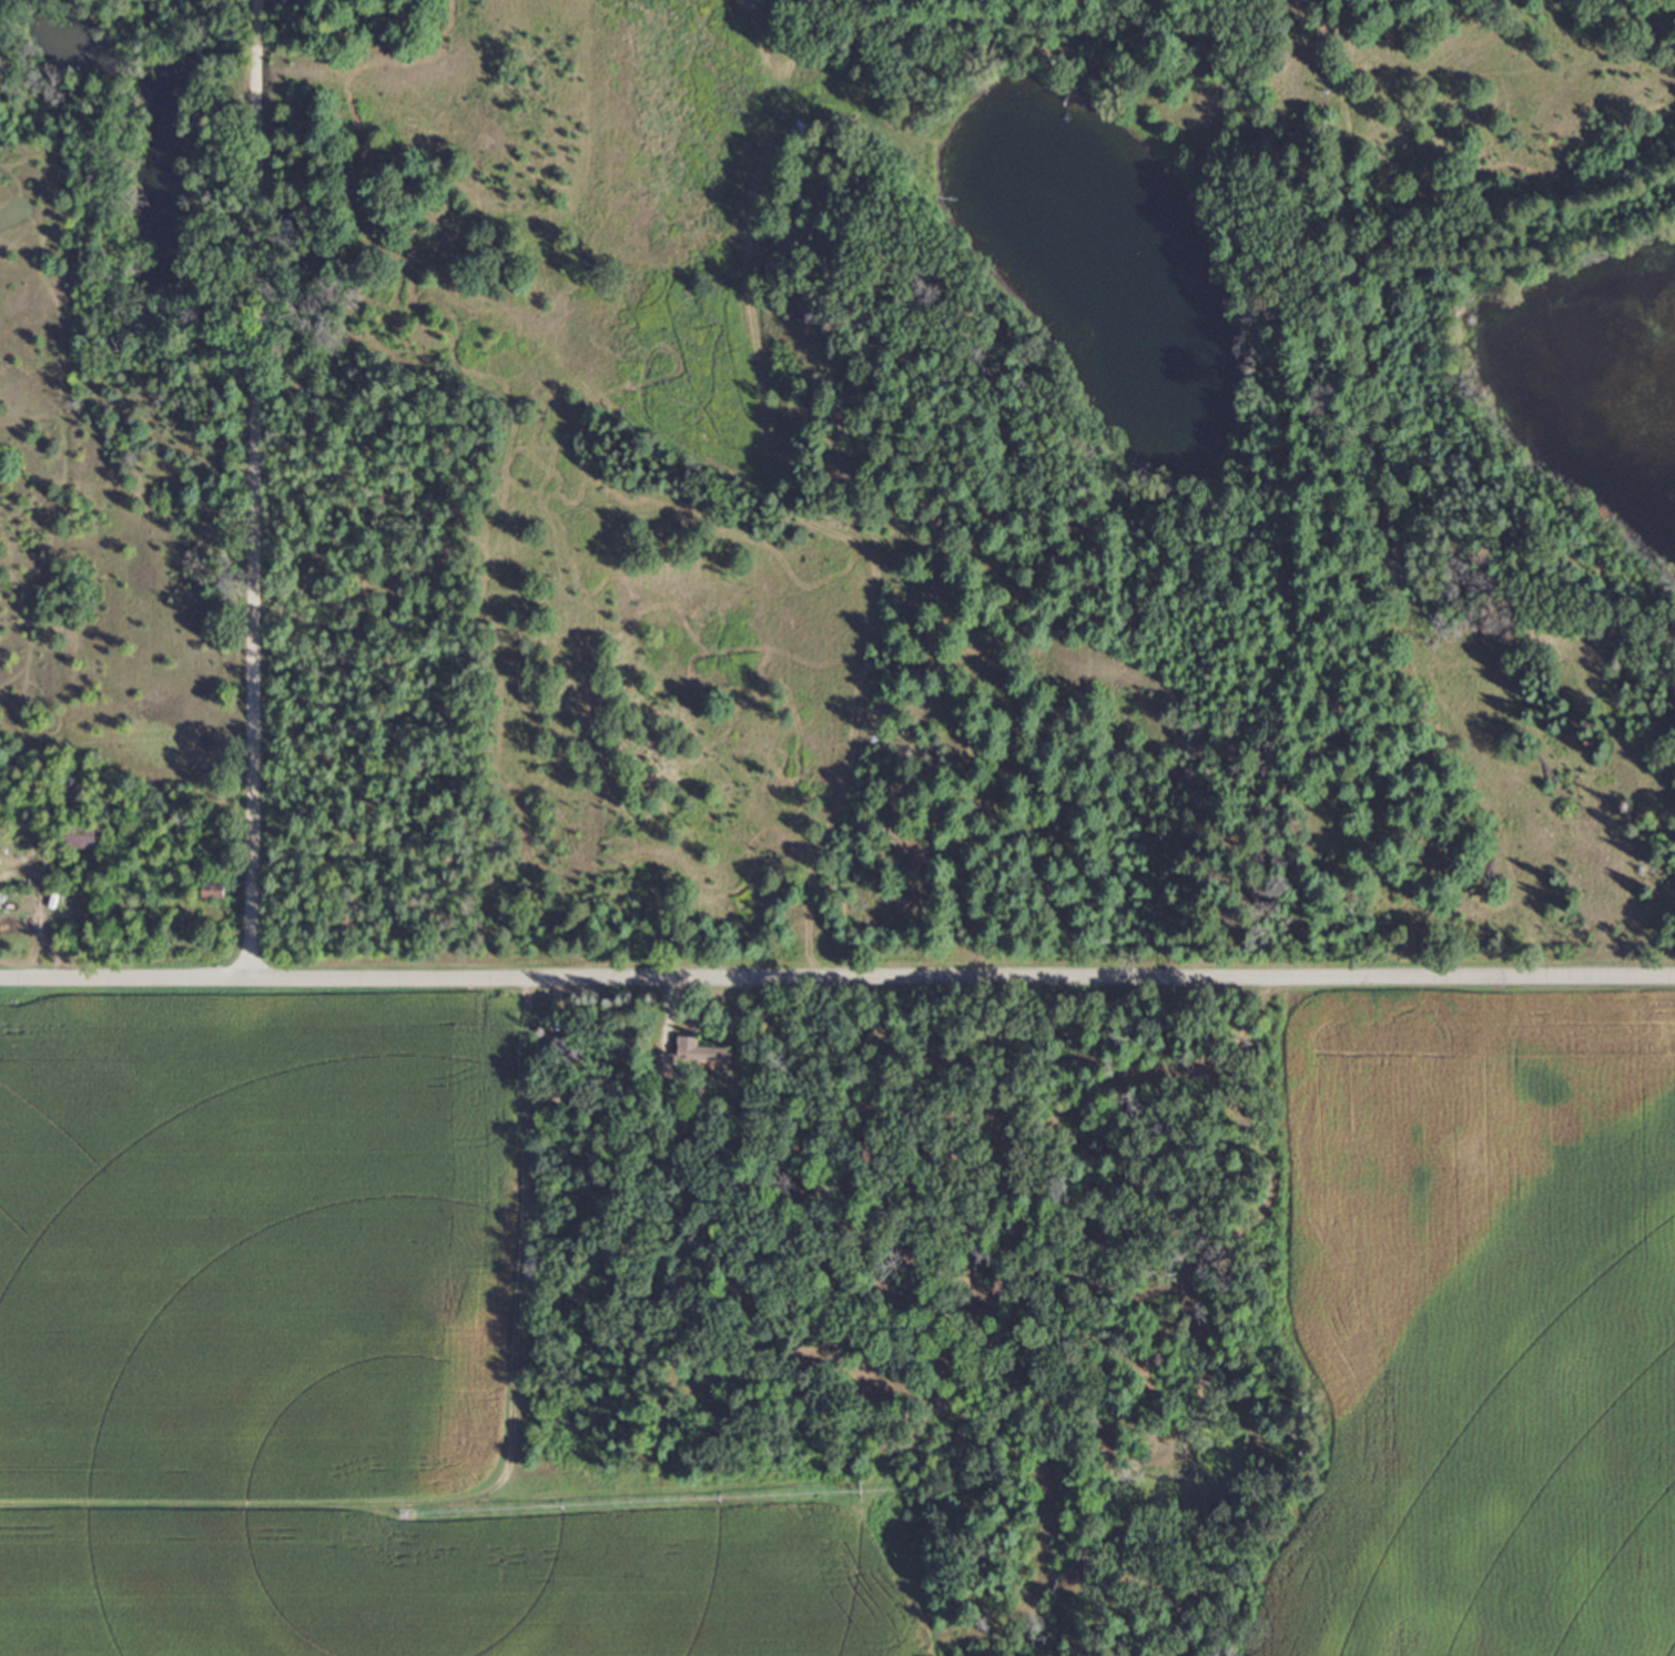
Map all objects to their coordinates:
road: (247, 489)
building: (78, 836)
building: (213, 888)
road: (44, 938)
road: (836, 974)
building: (571, 1049)
building: (698, 1050)
building: (659, 1064)

